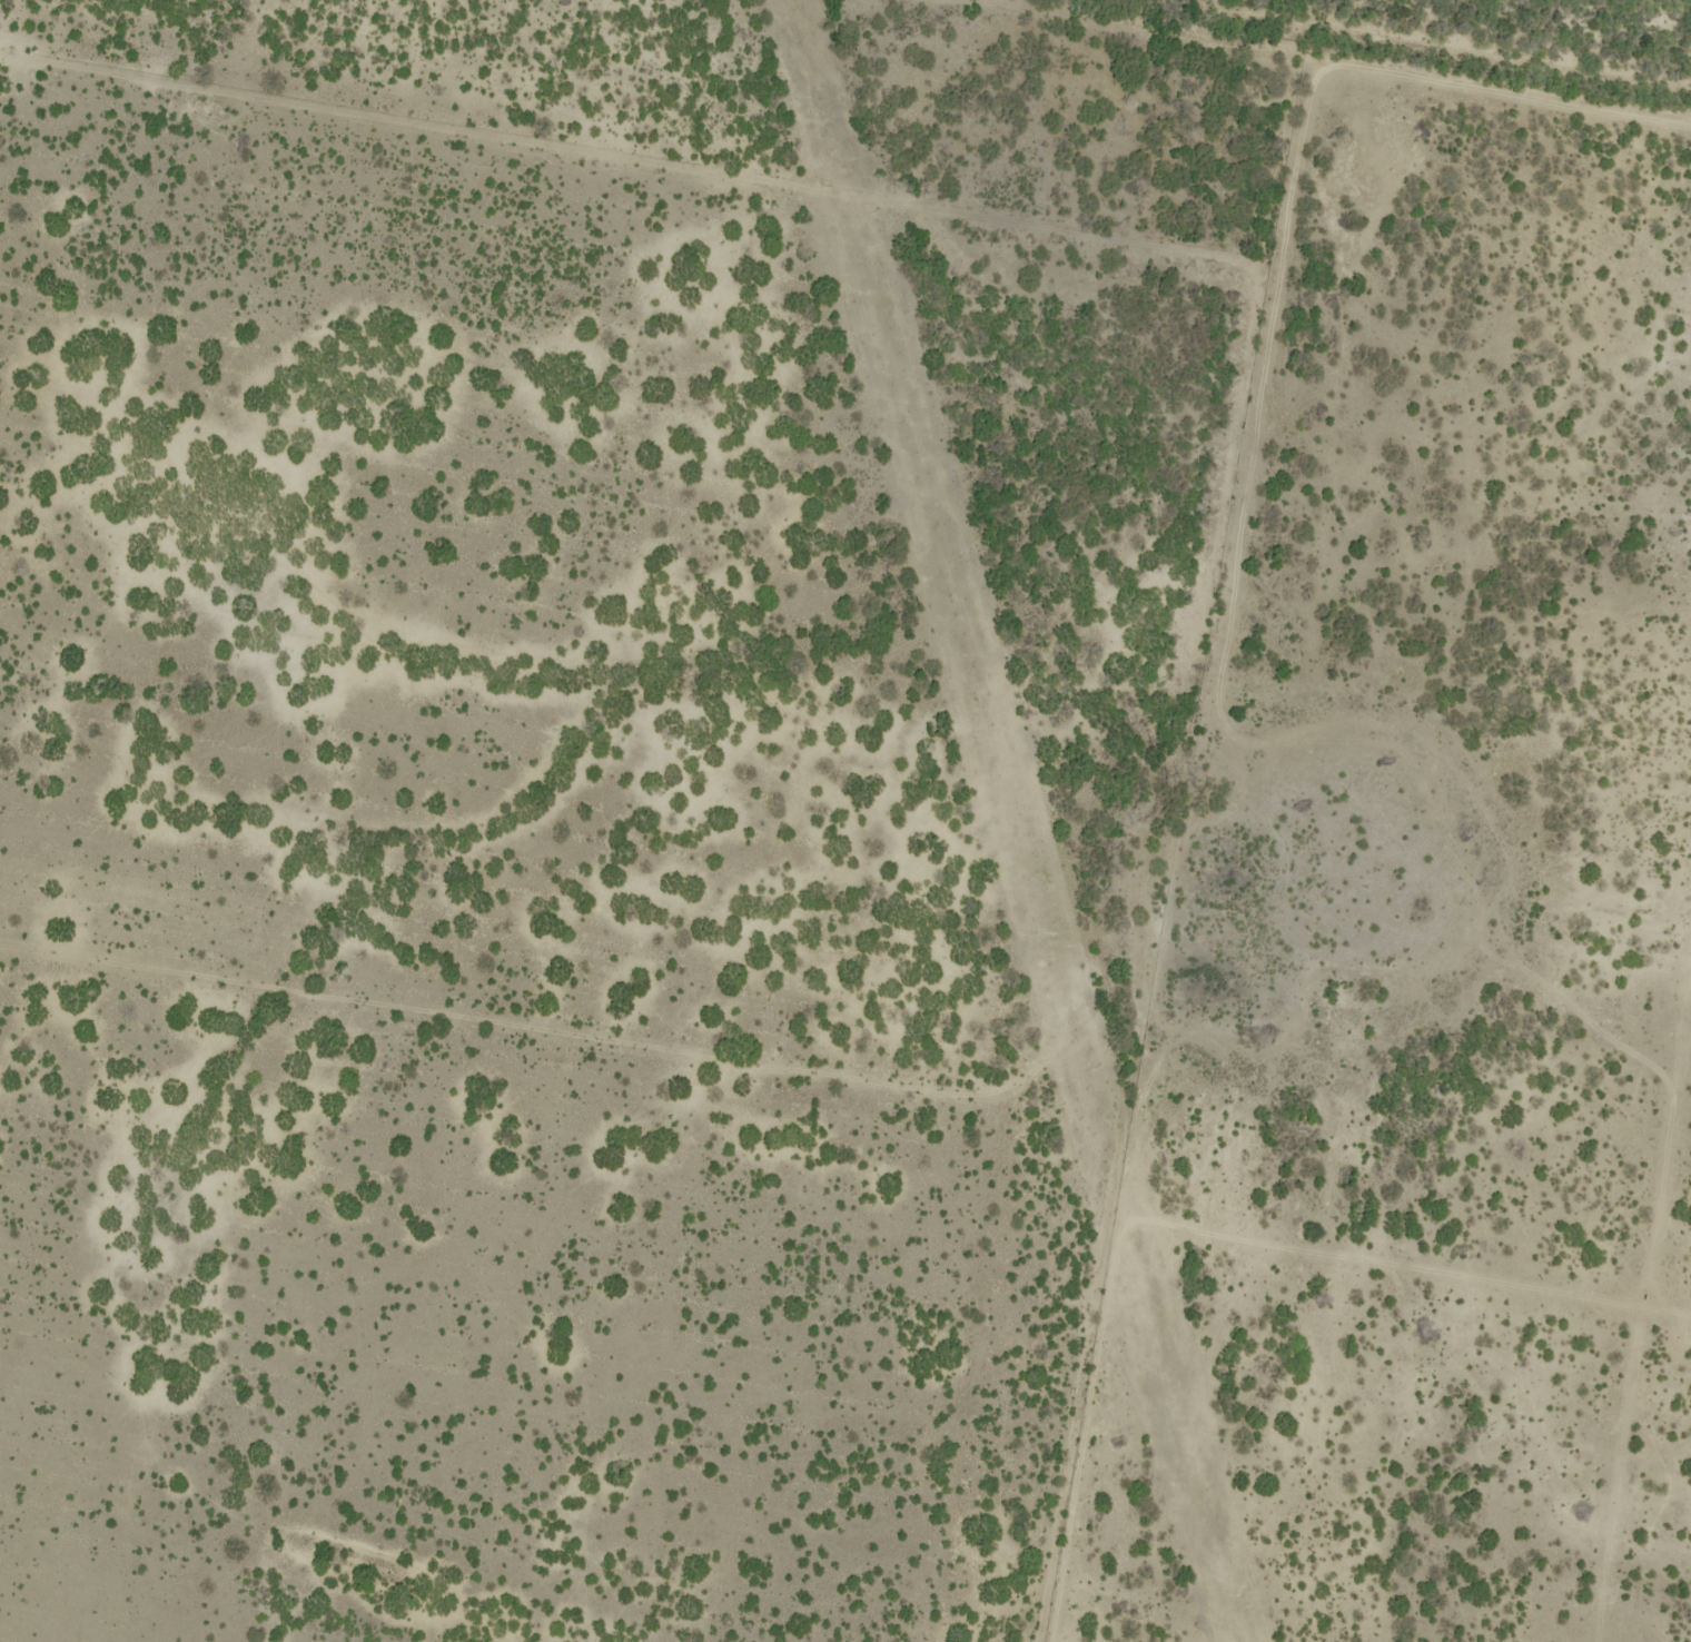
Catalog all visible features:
road: (1448, 42)

